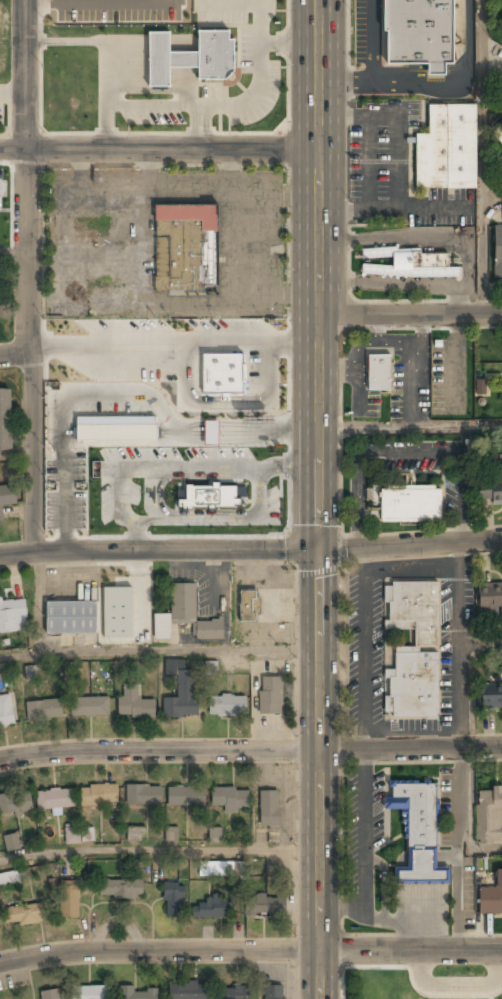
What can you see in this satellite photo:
building: (419, 33)
parking lot: (412, 50)
building: (501, 52)
building: (191, 58)
building: (500, 136)
road: (158, 149)
building: (448, 149)
building: (501, 157)
building: (93, 227)
building: (186, 248)
road: (318, 248)
road: (485, 250)
road: (13, 251)
building: (498, 252)
building: (410, 264)
road: (27, 276)
road: (410, 314)
road: (14, 355)
building: (379, 371)
building: (222, 373)
building: (480, 386)
building: (5, 420)
building: (116, 427)
road: (410, 427)
building: (211, 432)
road: (16, 454)
building: (492, 488)
building: (6, 496)
building: (411, 505)
road: (250, 550)
traffic signals: (318, 550)
building: (491, 595)
building: (261, 606)
building: (118, 612)
building: (13, 616)
building: (185, 616)
building: (72, 618)
road: (487, 641)
building: (413, 650)
road: (158, 651)
building: (210, 668)
building: (31, 672)
building: (181, 691)
building: (272, 696)
building: (492, 696)
building: (134, 704)
building: (227, 706)
building: (90, 707)
building: (45, 710)
building: (6, 712)
road: (317, 748)
road: (250, 751)
building: (144, 795)
building: (99, 796)
building: (187, 797)
building: (56, 799)
building: (231, 799)
building: (16, 803)
building: (270, 808)
building: (489, 816)
building: (414, 824)
building: (136, 833)
building: (171, 833)
building: (215, 834)
building: (80, 836)
building: (11, 842)
road: (489, 847)
road: (158, 850)
building: (221, 869)
building: (10, 879)
building: (121, 889)
building: (491, 897)
building: (70, 900)
building: (174, 901)
building: (266, 906)
building: (209, 910)
building: (25, 915)
road: (250, 950)
building: (189, 991)
building: (274, 992)
building: (89, 993)
building: (237, 993)
building: (50, 994)
building: (139, 994)

